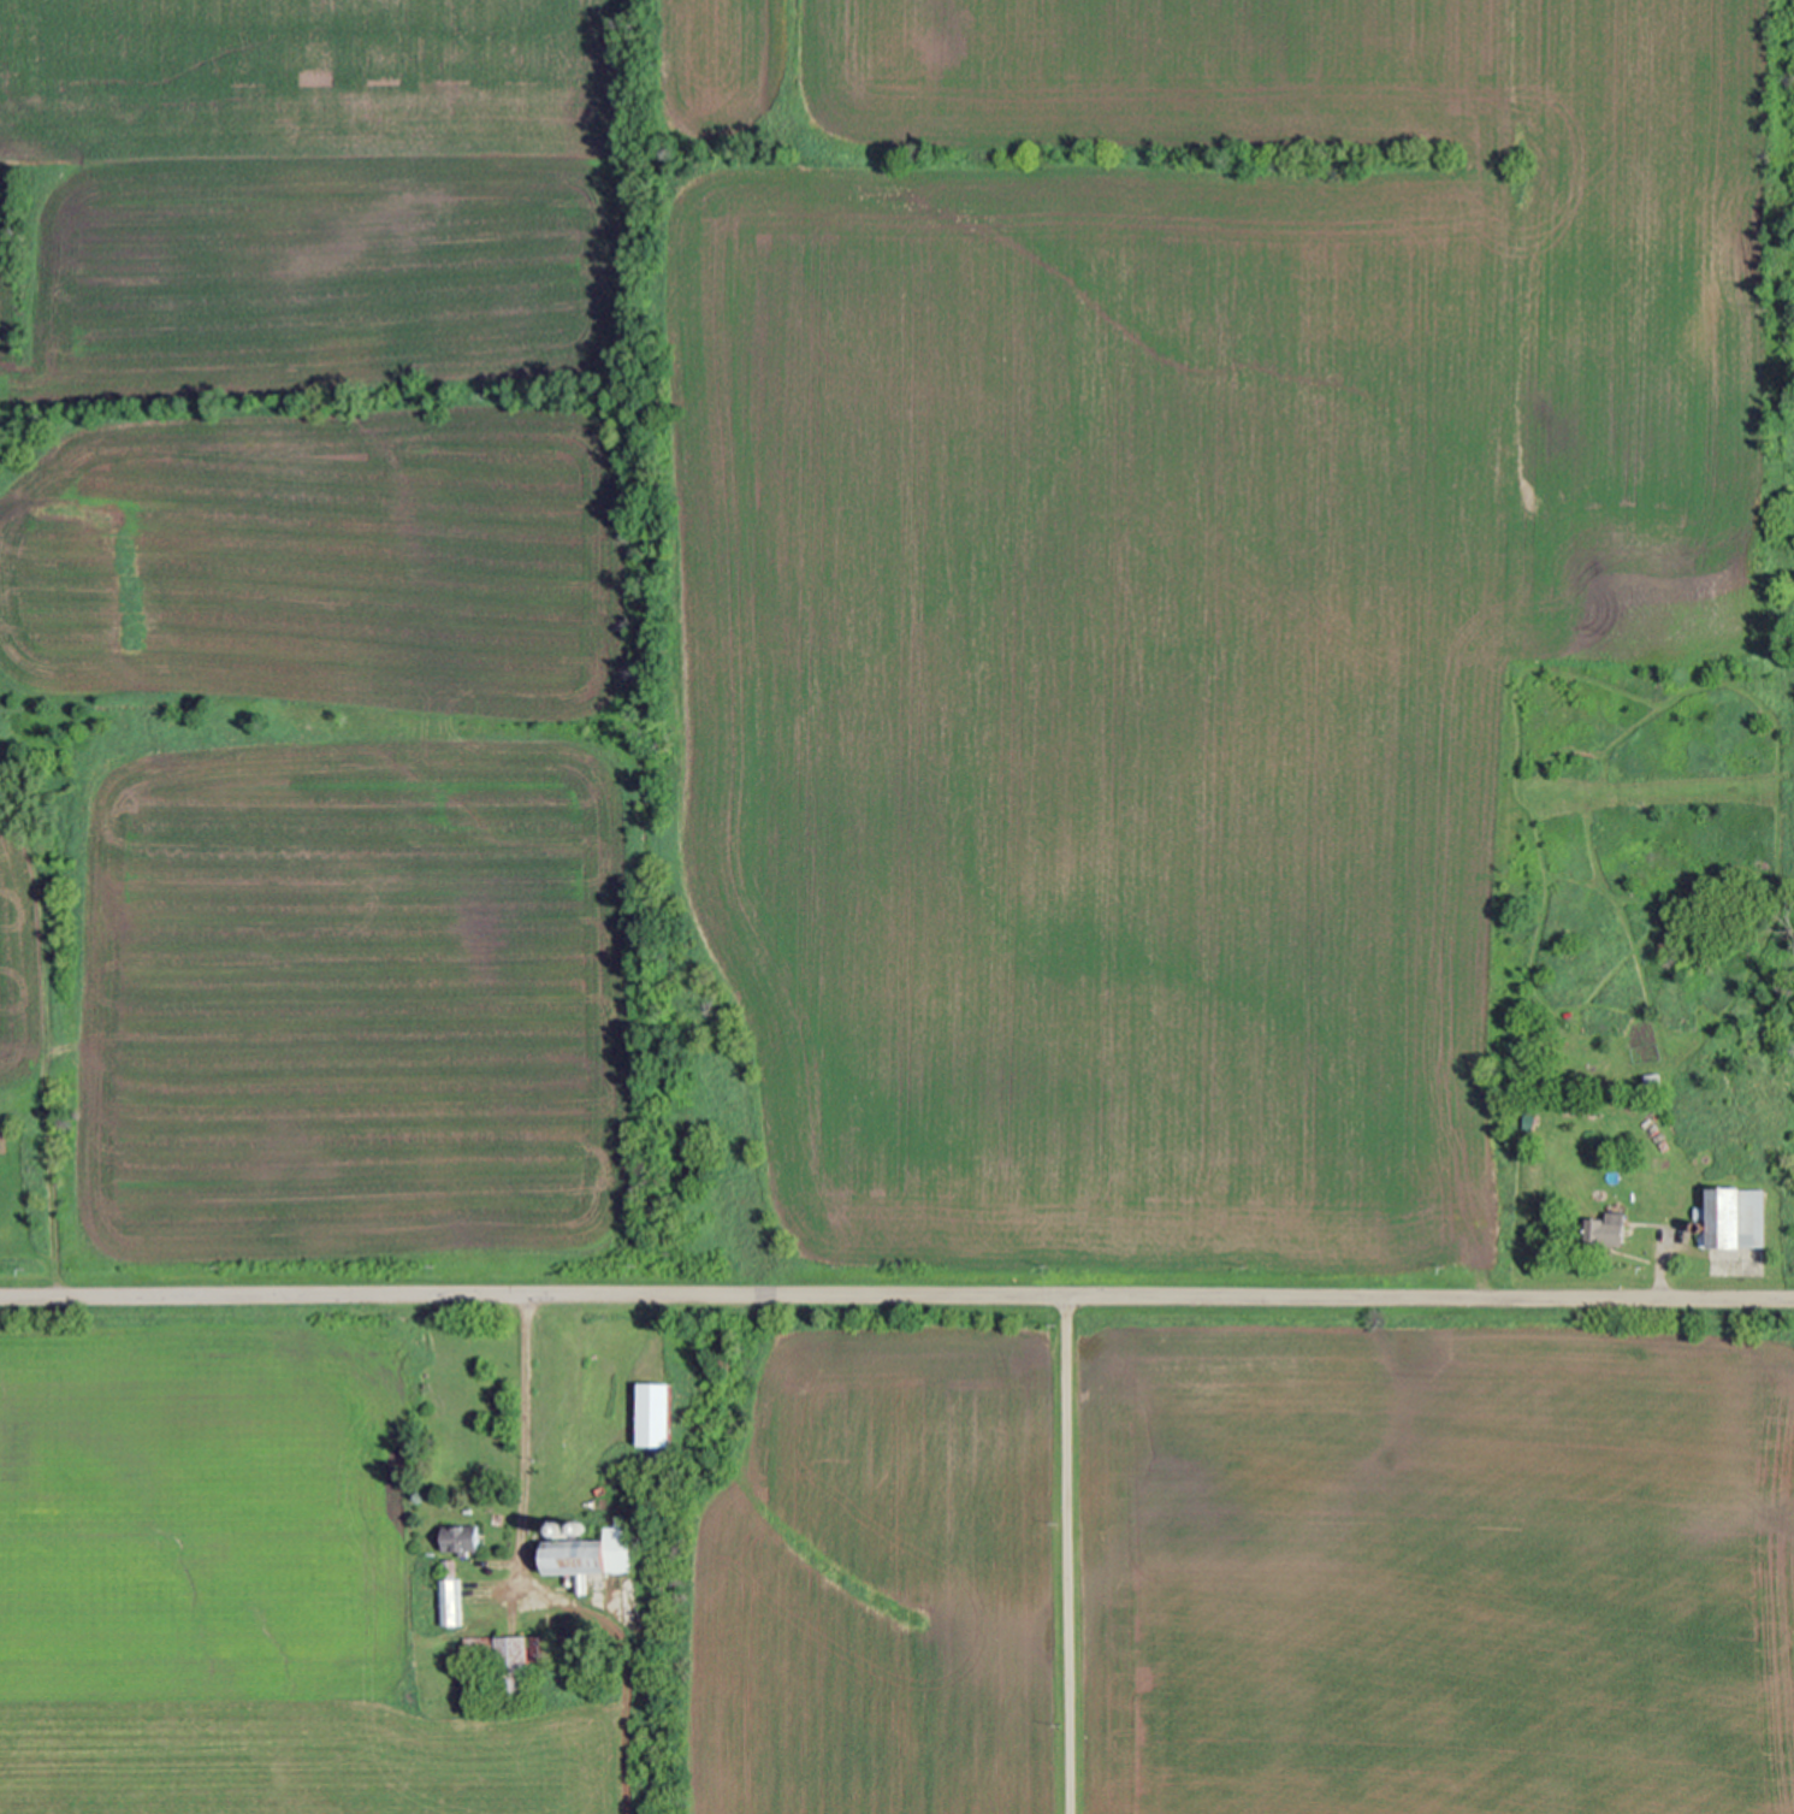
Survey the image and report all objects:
building: (1568, 1014)
building: (1654, 1081)
building: (1645, 1083)
building: (60, 1086)
building: (1529, 1121)
building: (1615, 1210)
building: (1730, 1218)
building: (1697, 1228)
building: (1608, 1231)
road: (896, 1296)
building: (656, 1416)
road: (521, 1443)
building: (467, 1508)
building: (576, 1529)
building: (562, 1530)
building: (460, 1540)
road: (1064, 1555)
building: (588, 1556)
building: (448, 1596)
building: (588, 1633)
building: (543, 1647)
building: (579, 1650)
building: (501, 1661)

